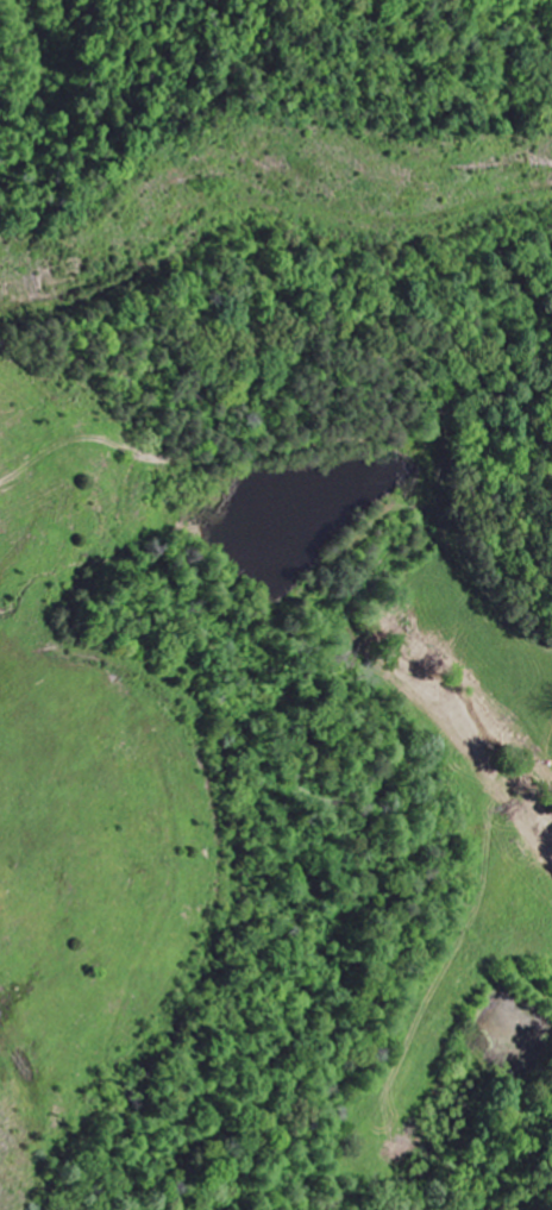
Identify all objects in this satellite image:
landfill: (63, 1053)

